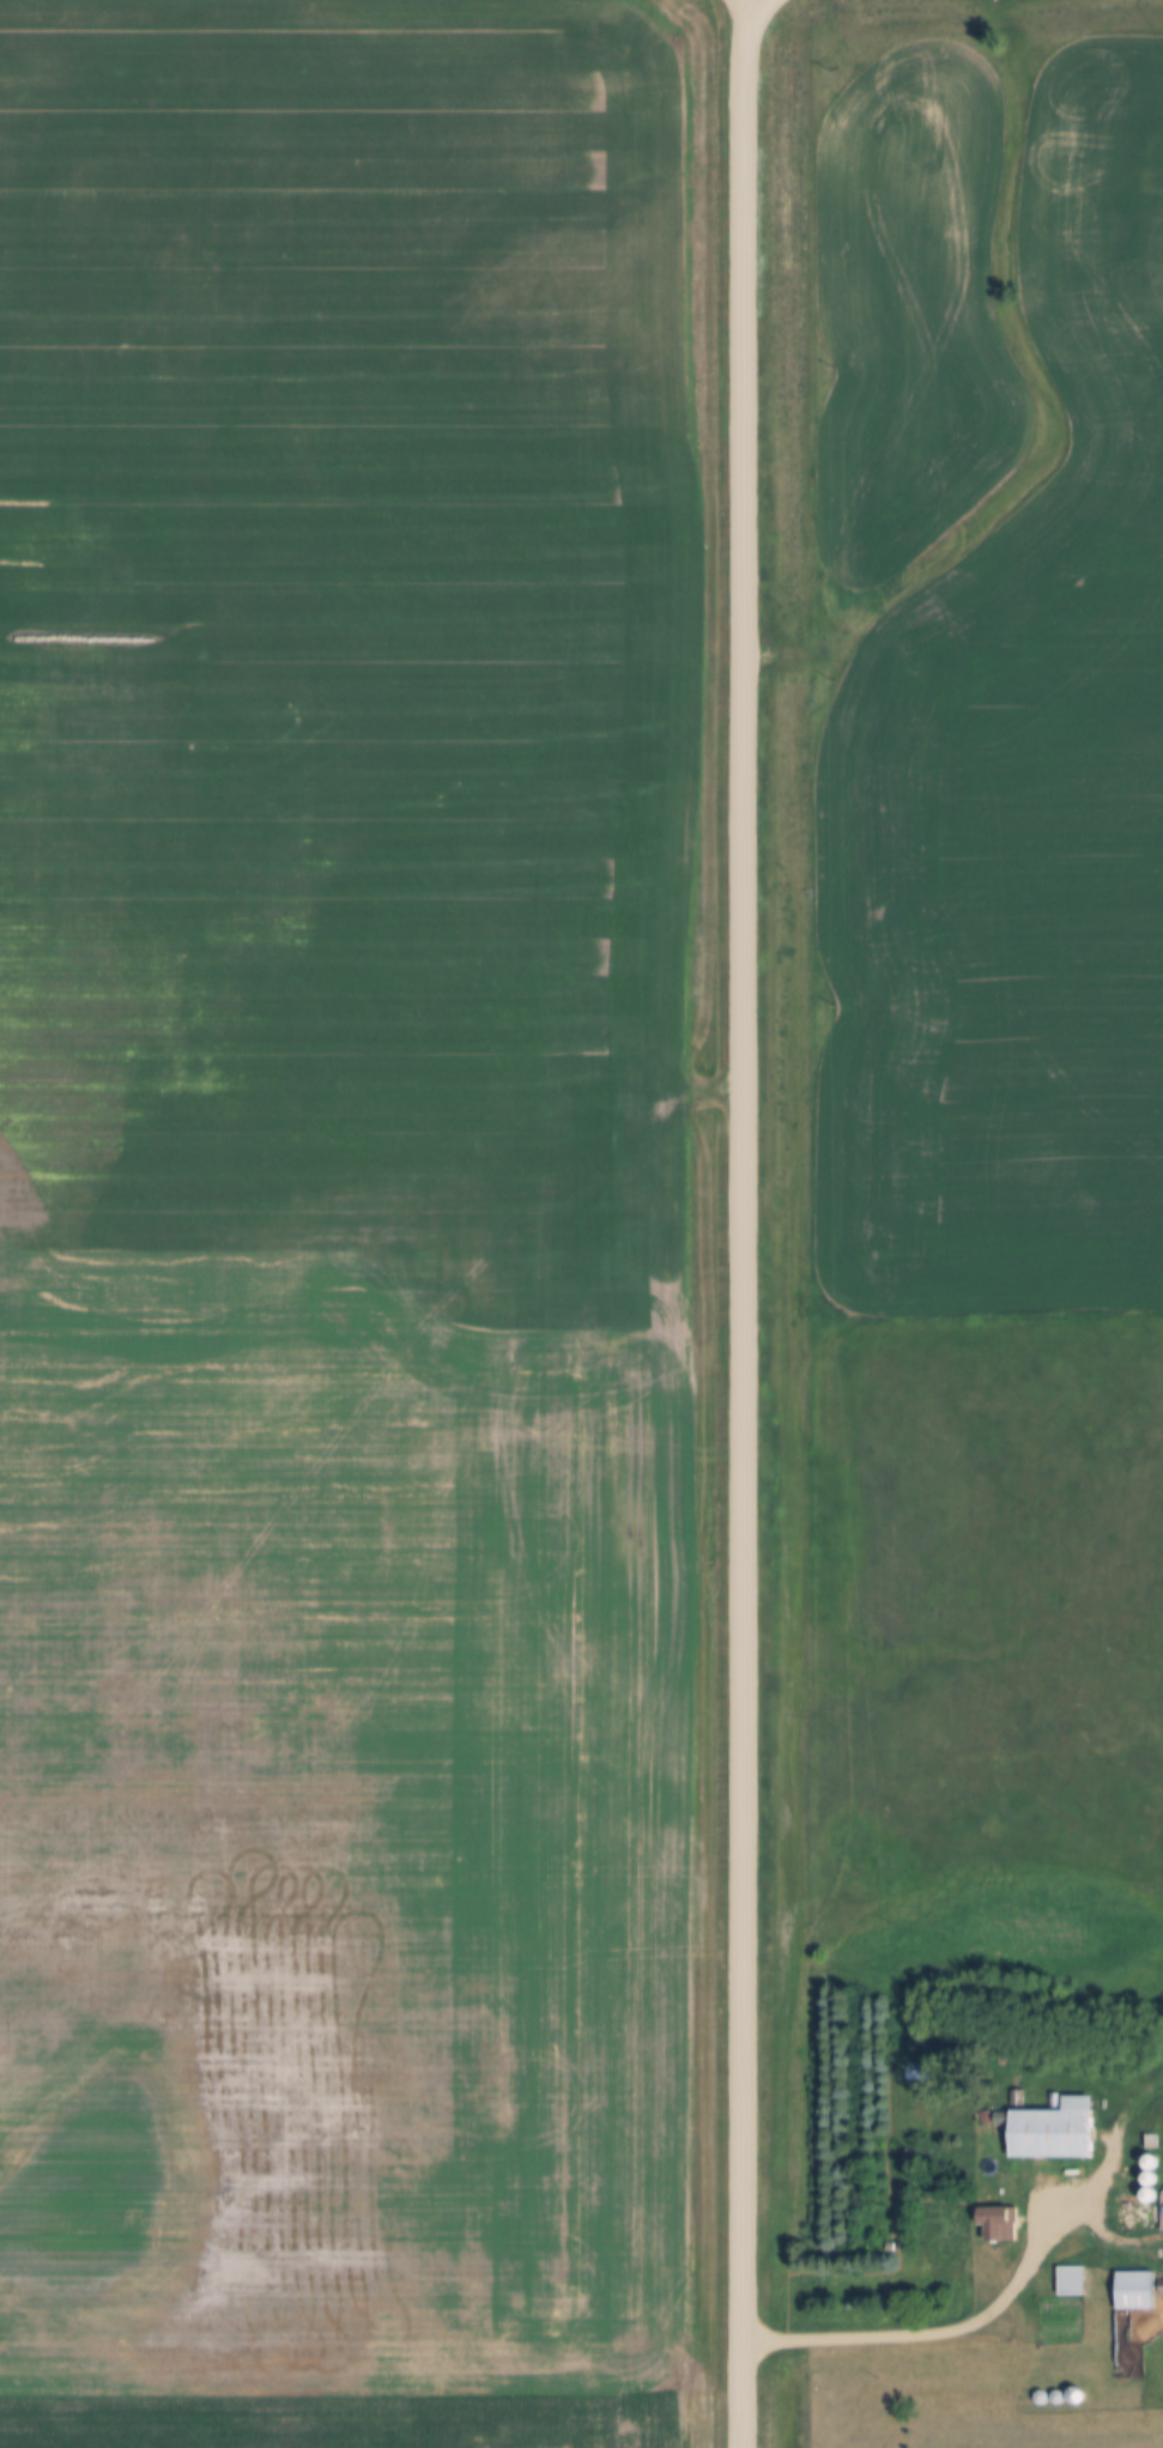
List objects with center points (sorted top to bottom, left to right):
road: (744, 1224)
building: (1048, 2132)
building: (992, 2226)
building: (1067, 2282)
building: (1133, 2291)
road: (993, 2309)

